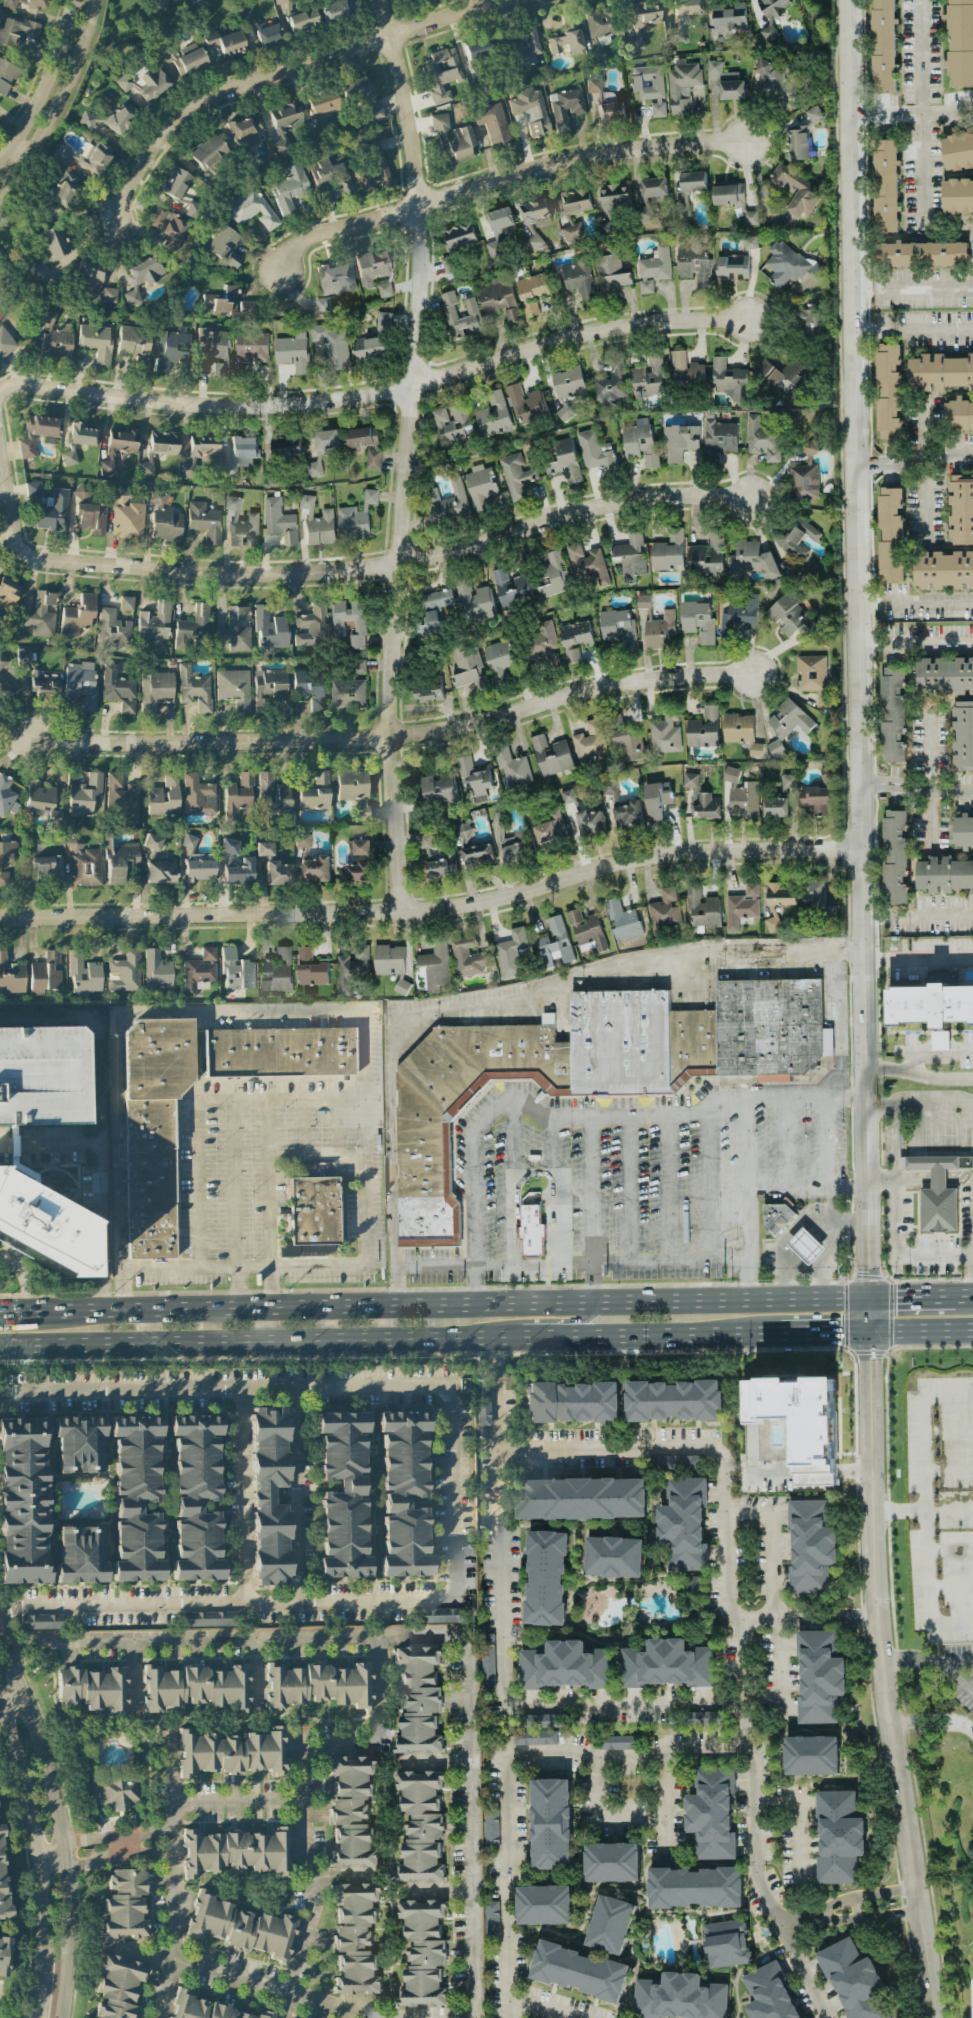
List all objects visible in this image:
building: (177, 1)
building: (12, 4)
building: (158, 4)
building: (35, 5)
building: (687, 7)
building: (336, 12)
building: (770, 15)
building: (729, 18)
building: (303, 22)
building: (642, 22)
building: (602, 26)
building: (16, 31)
building: (674, 34)
building: (268, 36)
building: (567, 39)
building: (960, 43)
building: (883, 45)
building: (525, 47)
building: (476, 51)
building: (187, 60)
road: (282, 72)
building: (441, 74)
building: (7, 76)
building: (779, 79)
road: (45, 81)
building: (727, 81)
building: (145, 83)
building: (594, 85)
building: (682, 85)
building: (649, 87)
building: (362, 97)
building: (605, 98)
building: (322, 102)
road: (60, 104)
building: (566, 107)
building: (531, 111)
building: (611, 112)
road: (920, 113)
building: (813, 114)
road: (910, 114)
building: (89, 119)
building: (119, 120)
building: (284, 124)
building: (492, 124)
building: (246, 130)
building: (452, 140)
building: (797, 144)
building: (957, 150)
building: (209, 152)
road: (18, 153)
building: (86, 157)
building: (373, 170)
building: (330, 175)
road: (503, 180)
building: (693, 181)
building: (885, 185)
building: (290, 187)
building: (653, 187)
building: (63, 188)
building: (177, 188)
building: (795, 189)
building: (728, 195)
building: (957, 196)
building: (615, 198)
building: (251, 210)
building: (574, 211)
building: (534, 213)
building: (750, 217)
building: (168, 225)
building: (498, 229)
building: (972, 229)
building: (460, 237)
building: (749, 242)
building: (224, 247)
building: (57, 249)
building: (922, 254)
building: (694, 263)
building: (787, 263)
building: (731, 266)
building: (371, 267)
building: (451, 267)
building: (653, 268)
building: (41, 271)
building: (610, 272)
building: (91, 277)
building: (142, 278)
building: (336, 278)
building: (578, 281)
road: (911, 287)
building: (385, 290)
building: (531, 292)
building: (109, 295)
building: (499, 301)
building: (220, 303)
building: (322, 304)
building: (246, 307)
park: (3, 311)
building: (459, 314)
building: (47, 316)
building: (384, 321)
building: (811, 322)
road: (912, 332)
building: (133, 341)
building: (96, 342)
building: (5, 343)
building: (55, 343)
building: (332, 344)
building: (371, 348)
building: (214, 350)
building: (249, 350)
building: (292, 352)
building: (685, 370)
building: (939, 372)
building: (785, 373)
building: (648, 378)
building: (729, 379)
building: (568, 383)
building: (610, 383)
building: (887, 391)
road: (375, 392)
building: (526, 403)
building: (493, 415)
building: (958, 415)
building: (452, 422)
building: (43, 428)
building: (82, 435)
building: (362, 437)
building: (718, 438)
building: (326, 439)
building: (762, 439)
building: (639, 441)
building: (679, 441)
building: (118, 447)
building: (285, 447)
building: (26, 449)
building: (158, 450)
building: (594, 452)
building: (199, 454)
road: (407, 454)
building: (240, 455)
building: (68, 458)
building: (373, 459)
road: (913, 459)
building: (564, 461)
building: (313, 468)
road: (923, 470)
building: (806, 473)
building: (515, 474)
building: (480, 487)
building: (33, 489)
building: (446, 503)
building: (960, 508)
building: (53, 512)
building: (127, 516)
building: (356, 517)
building: (91, 518)
building: (164, 520)
building: (279, 521)
building: (204, 522)
building: (316, 522)
building: (241, 525)
building: (813, 534)
building: (890, 534)
building: (794, 538)
building: (668, 551)
building: (707, 555)
building: (629, 556)
building: (751, 561)
building: (944, 570)
road: (330, 571)
building: (554, 574)
building: (510, 588)
building: (7, 595)
building: (474, 601)
building: (642, 601)
building: (126, 603)
road: (915, 605)
building: (433, 611)
building: (737, 613)
building: (41, 615)
building: (78, 615)
building: (789, 616)
building: (698, 621)
building: (154, 622)
building: (312, 626)
building: (193, 627)
building: (112, 628)
building: (269, 628)
building: (618, 628)
building: (357, 629)
building: (235, 630)
building: (659, 630)
building: (576, 633)
building: (544, 643)
road: (915, 644)
building: (572, 656)
building: (23, 658)
building: (499, 660)
building: (2, 661)
road: (858, 665)
building: (469, 669)
building: (810, 673)
building: (944, 675)
building: (43, 685)
building: (81, 685)
building: (270, 686)
building: (234, 688)
building: (310, 688)
building: (4, 689)
building: (119, 689)
building: (194, 689)
building: (156, 690)
building: (427, 691)
building: (347, 693)
building: (821, 699)
building: (892, 715)
building: (788, 719)
building: (737, 727)
building: (703, 728)
building: (664, 734)
building: (962, 735)
road: (391, 738)
building: (588, 744)
building: (627, 744)
building: (775, 747)
building: (755, 749)
building: (550, 755)
building: (511, 768)
building: (827, 773)
building: (730, 774)
road: (927, 774)
building: (473, 776)
building: (787, 779)
building: (352, 785)
building: (438, 788)
road: (916, 791)
building: (316, 793)
building: (5, 795)
building: (84, 795)
building: (273, 795)
building: (122, 796)
building: (198, 796)
building: (238, 796)
building: (567, 796)
building: (164, 797)
building: (699, 799)
building: (815, 799)
building: (745, 800)
building: (655, 801)
building: (775, 807)
building: (363, 812)
building: (627, 814)
building: (589, 821)
building: (961, 831)
building: (550, 832)
building: (302, 840)
building: (424, 840)
building: (506, 841)
building: (152, 842)
building: (189, 842)
building: (229, 846)
building: (361, 847)
building: (264, 849)
building: (7, 853)
building: (477, 855)
building: (894, 858)
building: (121, 862)
building: (83, 864)
building: (42, 867)
building: (440, 867)
building: (200, 869)
building: (315, 869)
building: (356, 871)
building: (160, 872)
building: (240, 872)
building: (278, 873)
building: (943, 874)
building: (4, 880)
building: (751, 889)
building: (817, 898)
building: (778, 903)
building: (702, 907)
road: (433, 909)
building: (664, 910)
building: (739, 910)
road: (918, 918)
building: (622, 920)
building: (586, 931)
building: (554, 943)
building: (511, 953)
building: (467, 957)
road: (918, 958)
building: (388, 960)
building: (434, 966)
building: (310, 968)
building: (351, 968)
building: (278, 970)
building: (236, 971)
building: (125, 972)
building: (157, 972)
building: (199, 972)
building: (45, 974)
building: (84, 974)
building: (11, 977)
building: (929, 1005)
road: (486, 1008)
road: (278, 1011)
building: (939, 1040)
building: (826, 1041)
building: (280, 1052)
road: (936, 1056)
building: (588, 1070)
building: (42, 1076)
road: (919, 1076)
road: (199, 1102)
road: (652, 1117)
road: (97, 1120)
building: (153, 1130)
road: (824, 1140)
road: (513, 1142)
road: (786, 1142)
road: (549, 1147)
road: (58, 1149)
road: (5, 1150)
road: (14, 1150)
road: (272, 1160)
road: (749, 1168)
road: (533, 1170)
road: (235, 1186)
road: (707, 1189)
road: (629, 1190)
road: (668, 1190)
building: (937, 1192)
road: (835, 1209)
road: (591, 1212)
building: (774, 1218)
road: (851, 1219)
building: (43, 1230)
building: (531, 1232)
road: (818, 1232)
road: (729, 1236)
road: (750, 1242)
road: (806, 1245)
building: (805, 1246)
road: (780, 1247)
road: (792, 1260)
road: (823, 1262)
road: (899, 1263)
road: (434, 1266)
road: (802, 1268)
road: (168, 1274)
traffic signals: (867, 1276)
road: (751, 1278)
road: (475, 1286)
road: (237, 1291)
road: (119, 1294)
road: (912, 1299)
road: (966, 1299)
traffic signals: (896, 1300)
road: (442, 1307)
road: (8, 1312)
road: (561, 1320)
road: (920, 1329)
road: (815, 1331)
traffic signals: (843, 1331)
road: (645, 1334)
road: (263, 1341)
road: (497, 1358)
traffic signals: (869, 1363)
building: (674, 1400)
building: (572, 1402)
building: (482, 1407)
building: (805, 1422)
road: (921, 1428)
road: (947, 1430)
building: (79, 1444)
road: (948, 1468)
road: (853, 1470)
road: (814, 1471)
road: (769, 1472)
road: (453, 1484)
building: (403, 1494)
road: (723, 1494)
road: (299, 1495)
building: (343, 1495)
road: (243, 1496)
building: (269, 1497)
building: (137, 1498)
building: (196, 1498)
building: (581, 1498)
building: (23, 1501)
road: (948, 1511)
building: (684, 1524)
building: (811, 1546)
road: (949, 1550)
building: (81, 1556)
building: (614, 1556)
road: (925, 1566)
building: (546, 1578)
road: (770, 1581)
road: (950, 1586)
road: (8, 1608)
building: (444, 1615)
road: (857, 1617)
road: (783, 1618)
building: (210, 1619)
building: (42, 1622)
road: (432, 1639)
road: (19, 1644)
road: (504, 1660)
building: (487, 1661)
road: (926, 1661)
building: (666, 1664)
building: (565, 1666)
road: (881, 1675)
building: (820, 1677)
road: (956, 1677)
building: (319, 1685)
building: (92, 1688)
building: (196, 1688)
building: (418, 1700)
road: (14, 1703)
road: (932, 1721)
building: (534, 1737)
building: (620, 1742)
building: (231, 1753)
building: (812, 1755)
road: (507, 1769)
building: (118, 1789)
road: (303, 1804)
road: (235, 1805)
road: (755, 1808)
building: (352, 1812)
building: (712, 1814)
road: (624, 1815)
road: (60, 1820)
road: (800, 1820)
building: (551, 1823)
building: (421, 1826)
road: (32, 1827)
building: (491, 1829)
building: (839, 1837)
road: (160, 1842)
road: (108, 1846)
road: (52, 1851)
building: (235, 1852)
building: (612, 1862)
road: (174, 1873)
building: (2, 1882)
building: (695, 1887)
road: (865, 1895)
building: (124, 1905)
building: (544, 1905)
road: (771, 1908)
road: (847, 1918)
building: (492, 1921)
building: (610, 1924)
building: (240, 1927)
building: (356, 1938)
building: (725, 1943)
building: (423, 1952)
building: (4, 1955)
building: (580, 1971)
building: (854, 1980)
road: (807, 1985)
road: (38, 1986)
building: (118, 1987)
road: (262, 1992)
building: (770, 1993)
building: (679, 1997)
building: (206, 2008)
road: (537, 2008)

